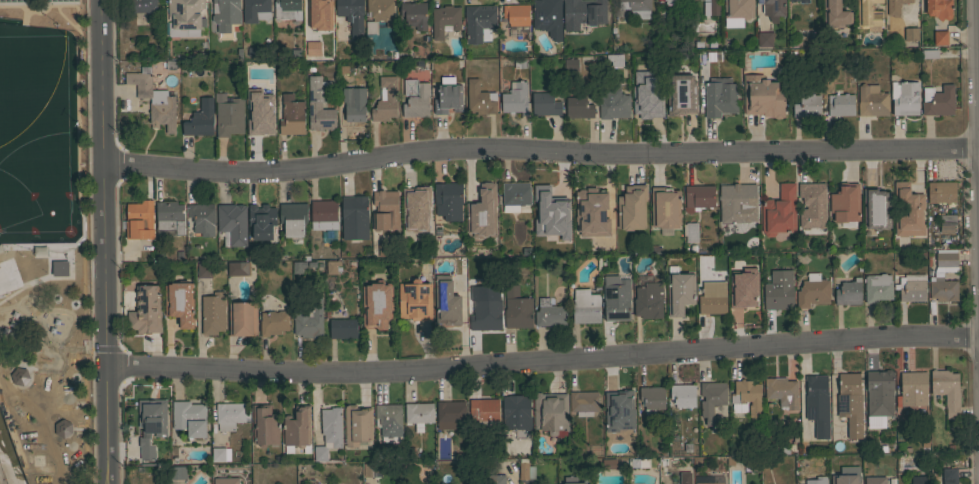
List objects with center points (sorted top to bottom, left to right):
building: (791, 0)
building: (674, 1)
building: (829, 3)
road: (978, 5)
building: (774, 6)
building: (895, 6)
building: (141, 7)
building: (636, 7)
building: (713, 7)
building: (938, 8)
building: (287, 9)
building: (255, 10)
building: (737, 12)
building: (583, 13)
building: (185, 14)
building: (225, 14)
building: (319, 14)
building: (379, 14)
building: (414, 14)
building: (869, 15)
building: (350, 16)
building: (516, 17)
building: (547, 17)
building: (444, 20)
building: (479, 22)
building: (706, 25)
building: (911, 33)
building: (940, 37)
building: (764, 39)
building: (712, 45)
building: (929, 53)
building: (293, 54)
park: (25, 55)
building: (712, 57)
building: (615, 59)
building: (518, 64)
building: (570, 64)
building: (169, 65)
building: (310, 67)
building: (523, 73)
building: (681, 95)
building: (447, 96)
building: (763, 96)
building: (719, 97)
building: (415, 98)
building: (904, 98)
building: (153, 99)
building: (479, 99)
building: (515, 99)
building: (385, 100)
building: (871, 100)
building: (937, 100)
building: (319, 104)
building: (545, 104)
building: (613, 104)
building: (840, 104)
building: (806, 105)
building: (648, 106)
building: (352, 107)
building: (578, 107)
building: (228, 115)
building: (291, 116)
building: (200, 119)
building: (260, 125)
road: (541, 151)
building: (941, 192)
building: (812, 194)
building: (515, 195)
building: (698, 197)
building: (547, 198)
building: (448, 200)
building: (845, 202)
building: (418, 203)
building: (737, 203)
building: (665, 207)
building: (631, 208)
building: (875, 208)
building: (409, 209)
building: (385, 210)
building: (322, 211)
building: (591, 211)
building: (908, 211)
building: (779, 212)
building: (482, 213)
building: (170, 216)
building: (354, 217)
building: (201, 218)
building: (293, 219)
building: (139, 220)
building: (261, 221)
building: (232, 222)
building: (947, 223)
building: (691, 232)
park: (19, 240)
road: (105, 241)
park: (43, 244)
building: (386, 250)
building: (500, 263)
building: (298, 266)
building: (332, 267)
building: (237, 268)
building: (203, 270)
building: (68, 272)
building: (937, 276)
building: (877, 287)
building: (911, 287)
building: (778, 290)
building: (812, 290)
building: (848, 292)
building: (679, 293)
building: (616, 298)
building: (712, 298)
building: (743, 298)
building: (414, 300)
building: (648, 300)
building: (180, 302)
building: (446, 302)
building: (376, 305)
building: (585, 307)
building: (516, 308)
road: (7, 309)
building: (145, 310)
road: (65, 312)
building: (212, 313)
building: (550, 313)
building: (485, 315)
building: (242, 318)
building: (308, 319)
building: (273, 322)
building: (342, 328)
road: (11, 347)
road: (120, 348)
road: (542, 360)
road: (38, 366)
building: (912, 389)
building: (816, 390)
building: (946, 390)
building: (782, 391)
building: (879, 392)
building: (682, 395)
building: (651, 398)
building: (747, 399)
building: (712, 400)
building: (583, 402)
building: (621, 402)
building: (850, 403)
building: (517, 411)
building: (450, 412)
building: (484, 413)
building: (550, 413)
building: (418, 414)
building: (229, 415)
building: (189, 418)
building: (388, 419)
building: (151, 424)
building: (357, 425)
building: (264, 426)
building: (297, 427)
building: (62, 428)
building: (328, 432)
building: (924, 444)
building: (950, 447)
building: (778, 448)
building: (882, 448)
building: (907, 449)
building: (596, 450)
building: (220, 454)
building: (639, 462)
building: (609, 463)
building: (371, 469)
building: (525, 469)
building: (176, 472)
building: (845, 475)
building: (948, 476)
building: (680, 478)
building: (494, 479)
building: (919, 479)
road: (0, 480)
building: (874, 480)
building: (890, 480)
building: (220, 481)
building: (810, 481)
building: (575, 483)
building: (709, 483)

